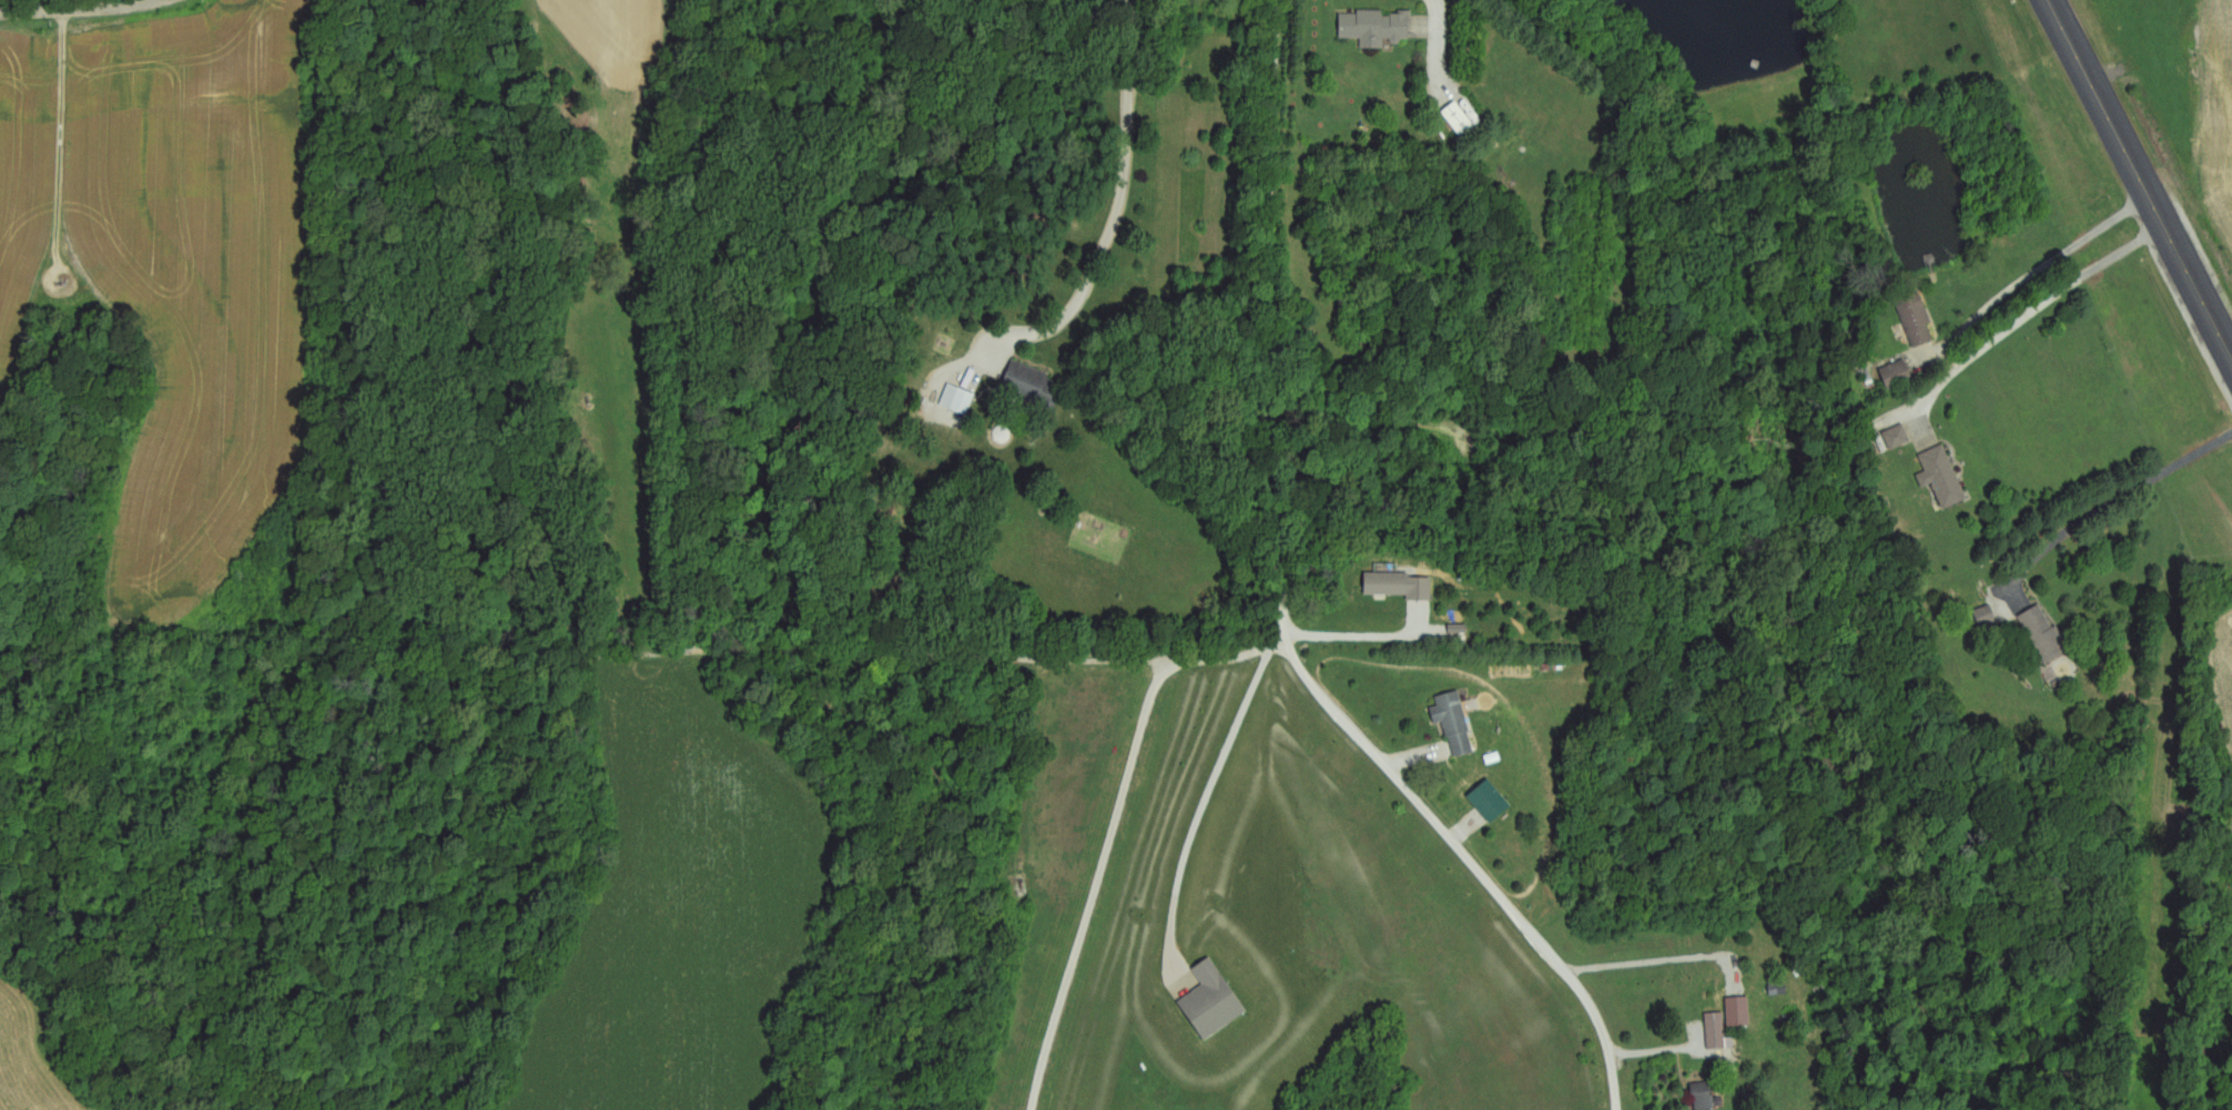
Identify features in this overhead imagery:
road: (70, 4)
building: (1377, 29)
road: (1445, 44)
building: (1460, 121)
road: (2143, 174)
road: (1125, 186)
road: (2049, 264)
road: (2029, 314)
building: (1917, 318)
building: (1898, 374)
building: (1034, 384)
building: (964, 401)
building: (1898, 437)
building: (1942, 476)
road: (2109, 508)
road: (1290, 614)
building: (1988, 617)
building: (2046, 634)
road: (1364, 639)
building: (1455, 722)
road: (1205, 801)
road: (1115, 825)
building: (1213, 1001)
building: (1739, 1011)
building: (1717, 1031)
building: (1705, 1097)

